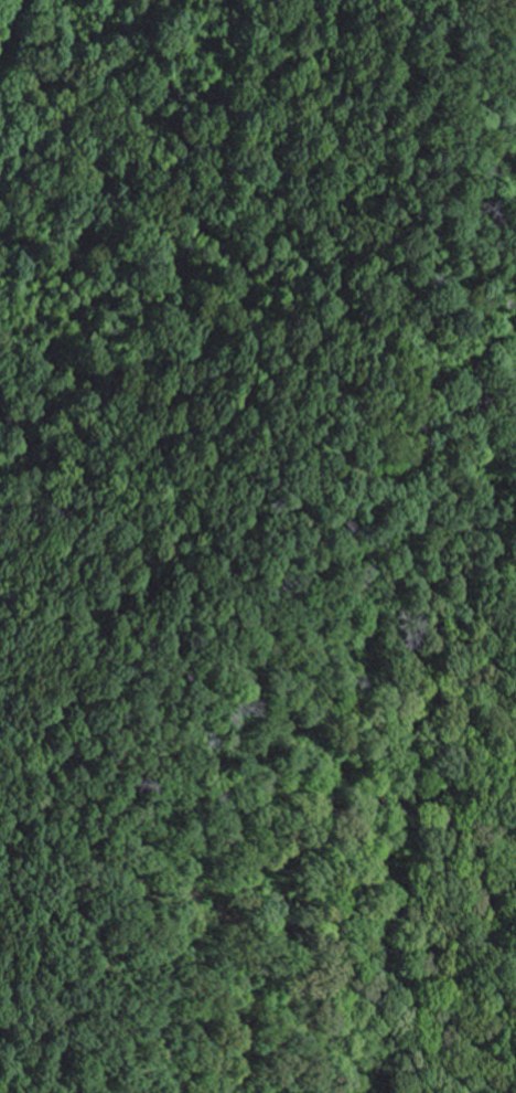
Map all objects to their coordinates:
road: (9, 23)

